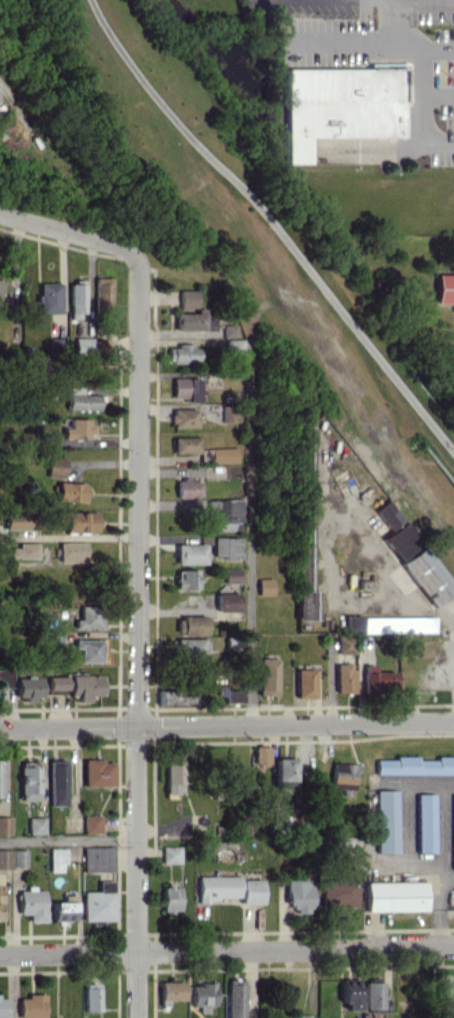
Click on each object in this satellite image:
road: (394, 19)
road: (413, 44)
road: (437, 50)
road: (437, 93)
building: (342, 105)
building: (0, 106)
road: (276, 227)
road: (69, 230)
building: (0, 285)
building: (445, 287)
building: (101, 292)
building: (49, 298)
building: (187, 298)
building: (75, 299)
building: (189, 320)
building: (228, 330)
building: (82, 346)
building: (100, 346)
building: (233, 346)
building: (182, 354)
building: (185, 388)
building: (80, 399)
building: (229, 413)
building: (183, 417)
building: (79, 428)
building: (185, 444)
building: (304, 445)
building: (205, 455)
building: (223, 455)
building: (55, 466)
building: (187, 488)
building: (70, 491)
building: (226, 513)
building: (19, 520)
building: (77, 520)
road: (250, 532)
building: (224, 547)
building: (25, 550)
building: (72, 551)
building: (189, 553)
building: (413, 555)
building: (230, 574)
building: (305, 575)
building: (185, 579)
building: (264, 586)
building: (226, 601)
building: (89, 616)
building: (352, 623)
building: (398, 624)
building: (190, 625)
road: (452, 630)
road: (135, 634)
building: (345, 644)
building: (189, 648)
building: (88, 649)
building: (267, 676)
building: (6, 677)
building: (344, 677)
building: (379, 681)
building: (304, 683)
building: (74, 686)
building: (28, 687)
building: (232, 695)
building: (176, 697)
road: (226, 724)
building: (260, 755)
building: (415, 765)
building: (97, 772)
building: (283, 772)
building: (173, 774)
building: (342, 776)
building: (0, 781)
building: (28, 781)
building: (56, 782)
building: (384, 821)
building: (424, 822)
building: (91, 823)
building: (5, 825)
building: (35, 825)
building: (452, 833)
road: (68, 839)
building: (170, 854)
building: (19, 857)
building: (5, 858)
building: (56, 859)
building: (97, 859)
building: (0, 879)
building: (228, 888)
building: (338, 891)
building: (298, 894)
building: (394, 896)
building: (453, 897)
building: (170, 898)
building: (98, 902)
building: (31, 903)
building: (63, 911)
road: (227, 951)
building: (170, 989)
building: (349, 994)
building: (447, 995)
building: (201, 996)
building: (91, 997)
building: (373, 997)
building: (234, 998)
building: (31, 1006)
building: (3, 1007)

